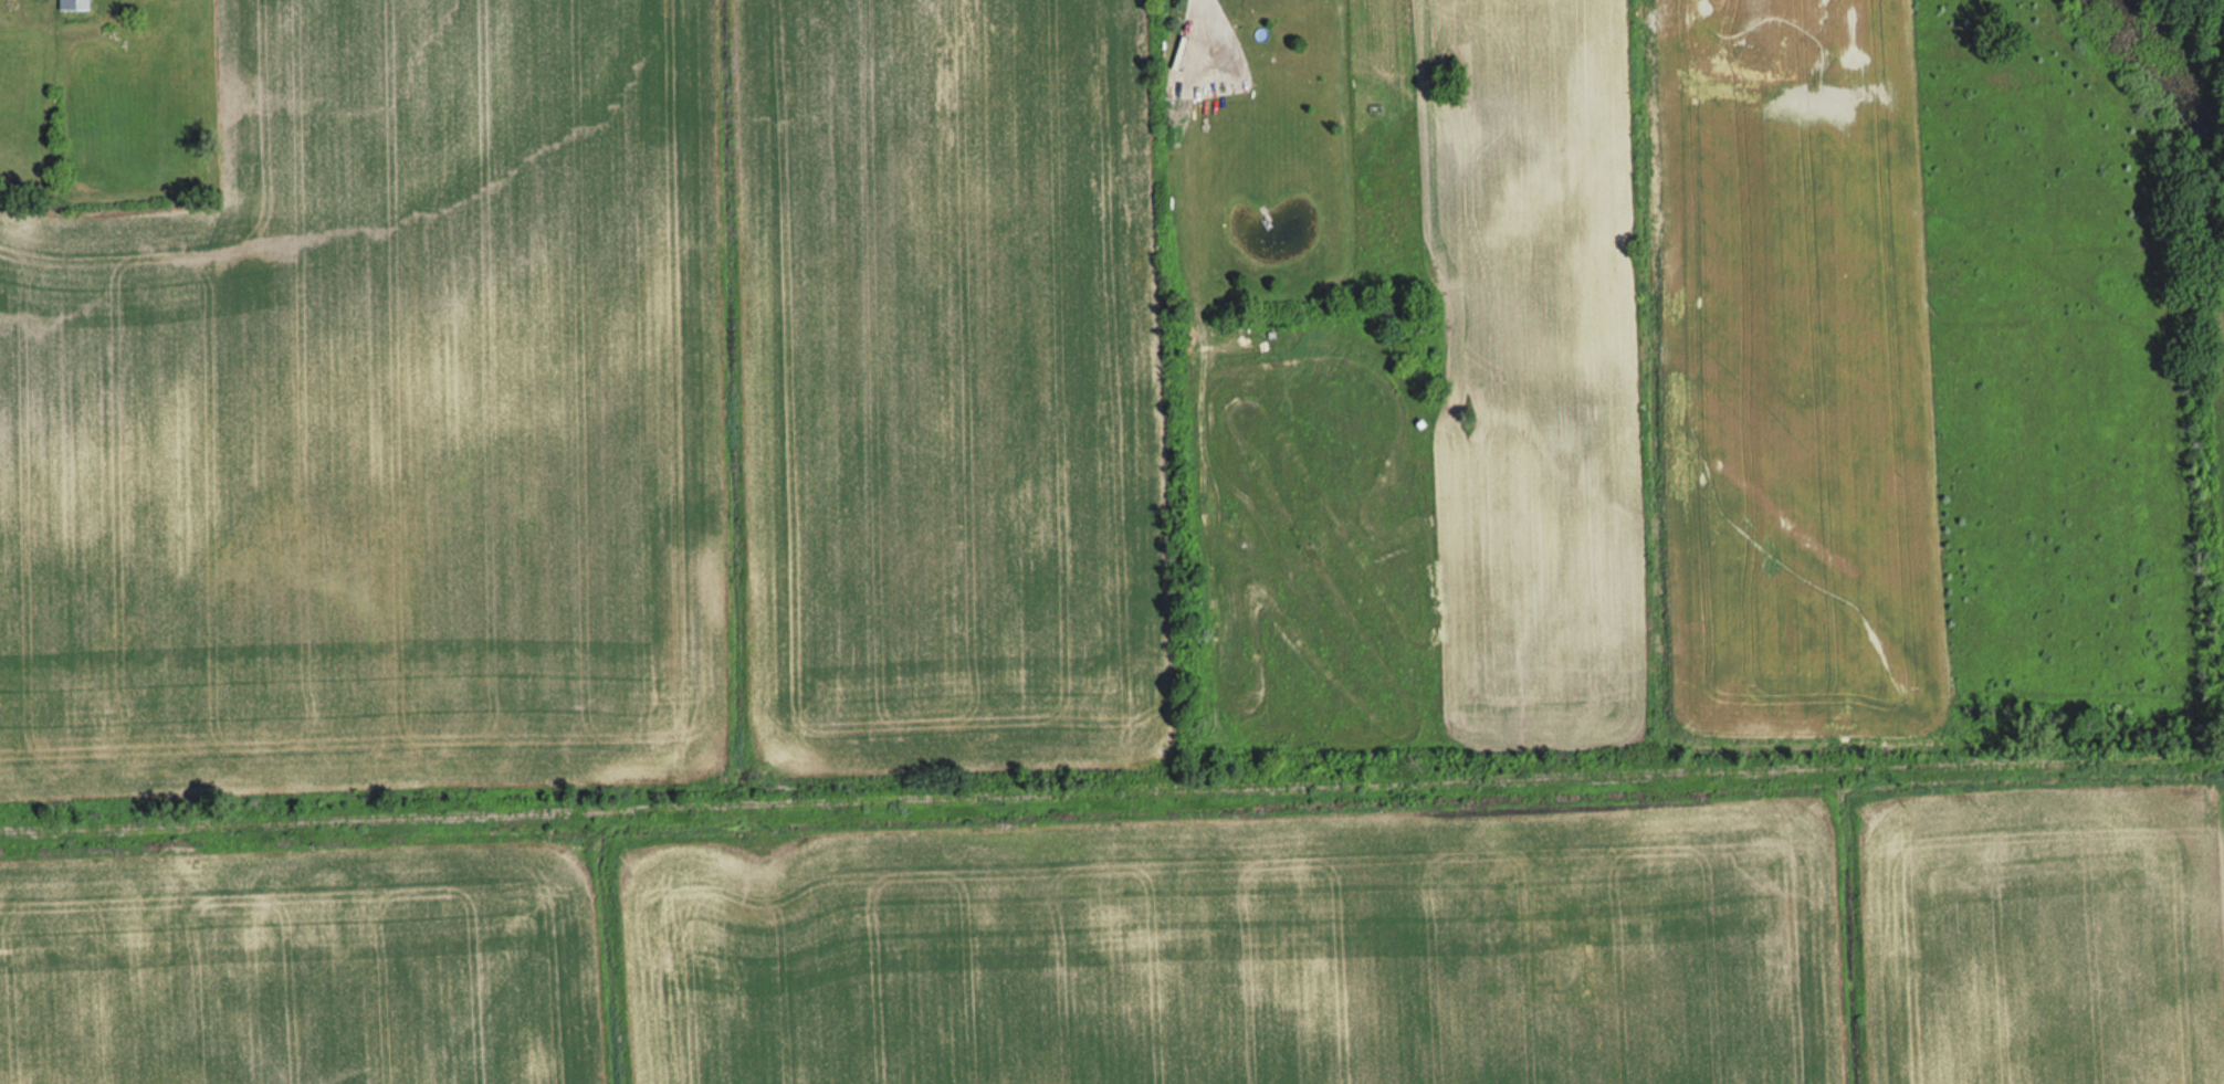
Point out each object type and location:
railway: (1112, 796)

